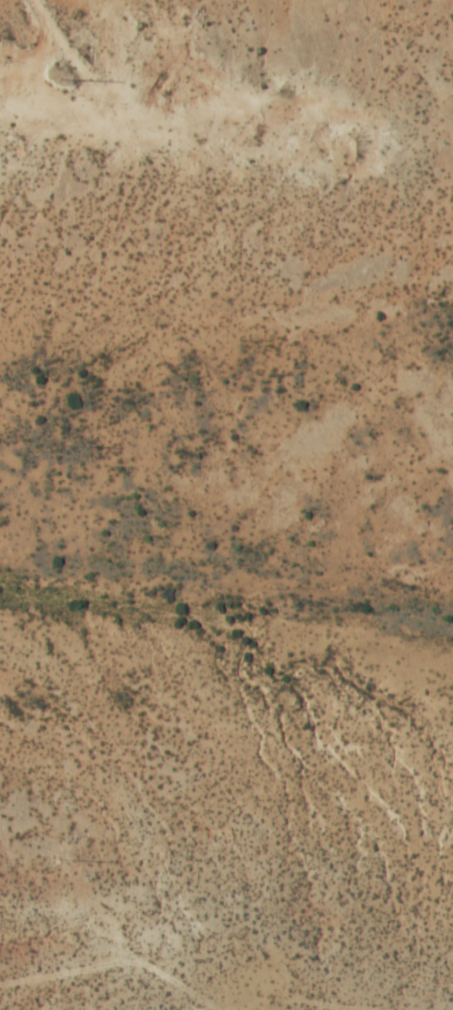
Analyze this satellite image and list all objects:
power tower: (63, 80)
road: (110, 94)
power tower: (68, 445)
power tower: (66, 859)

